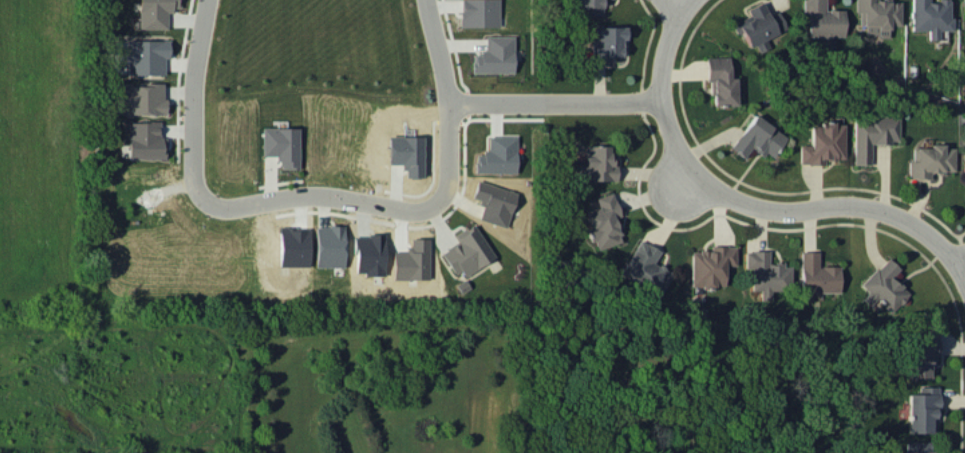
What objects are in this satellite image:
building: (589, 7)
building: (156, 13)
building: (479, 13)
building: (877, 15)
building: (931, 16)
building: (822, 19)
building: (758, 26)
building: (607, 42)
building: (146, 56)
building: (495, 56)
building: (721, 82)
building: (143, 99)
road: (447, 100)
road: (555, 102)
road: (193, 104)
building: (873, 135)
building: (758, 138)
building: (145, 140)
building: (823, 144)
building: (281, 145)
building: (407, 154)
building: (497, 155)
building: (930, 161)
building: (964, 163)
building: (597, 165)
road: (324, 195)
building: (494, 203)
road: (749, 203)
building: (604, 222)
building: (329, 246)
building: (293, 247)
building: (467, 251)
building: (369, 254)
road: (959, 256)
building: (411, 261)
building: (711, 265)
building: (646, 269)
building: (767, 273)
building: (884, 286)
building: (922, 353)
building: (922, 409)
building: (920, 447)

